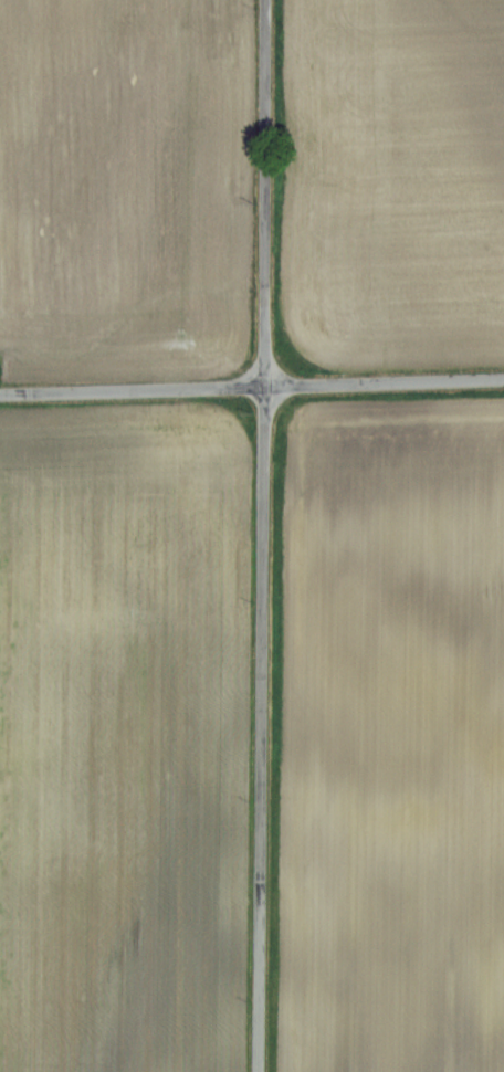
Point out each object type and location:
road: (252, 386)
road: (261, 536)

